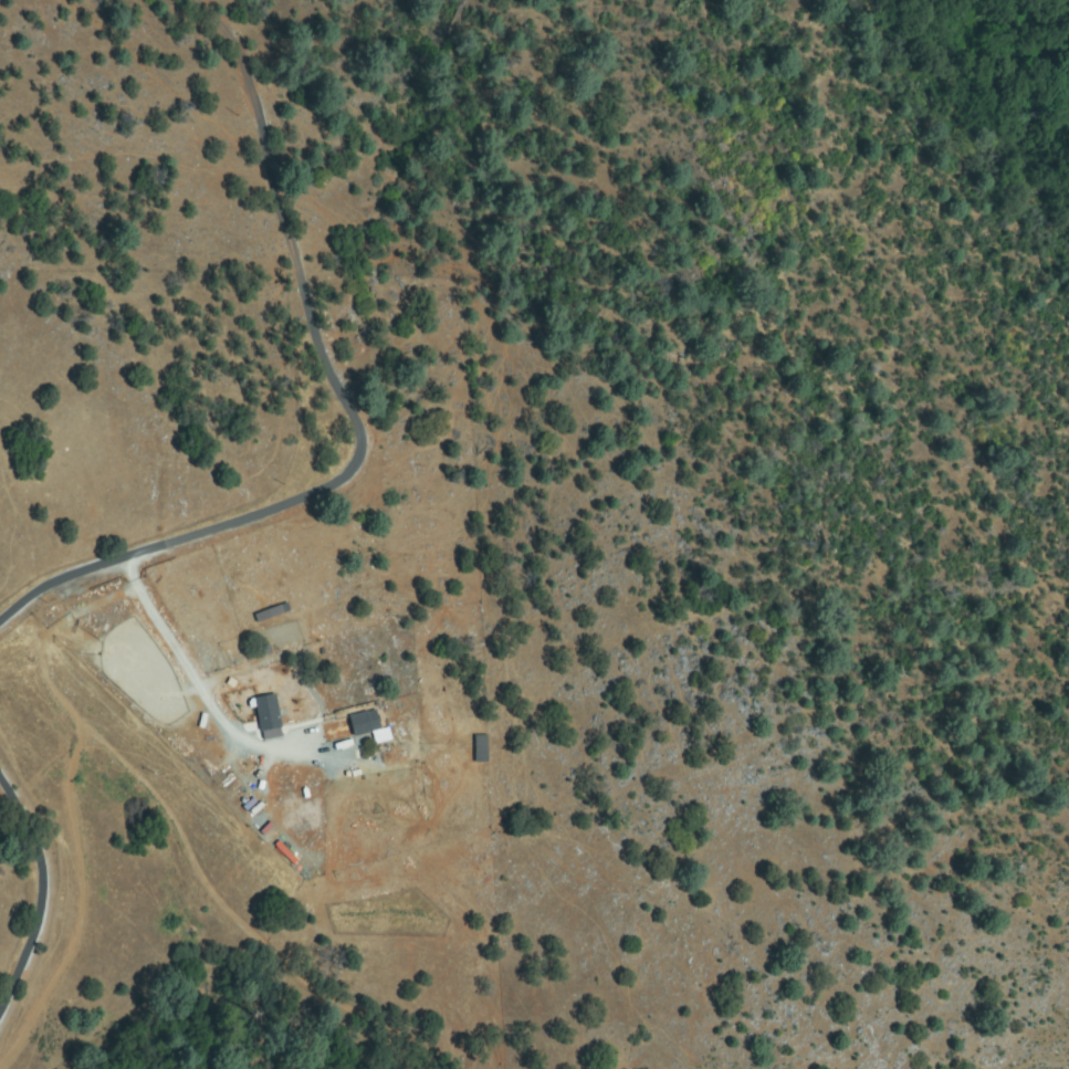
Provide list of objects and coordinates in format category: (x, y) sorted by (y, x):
road: (353, 412)
building: (269, 614)
building: (266, 713)
building: (346, 727)
building: (480, 745)
road: (42, 892)

